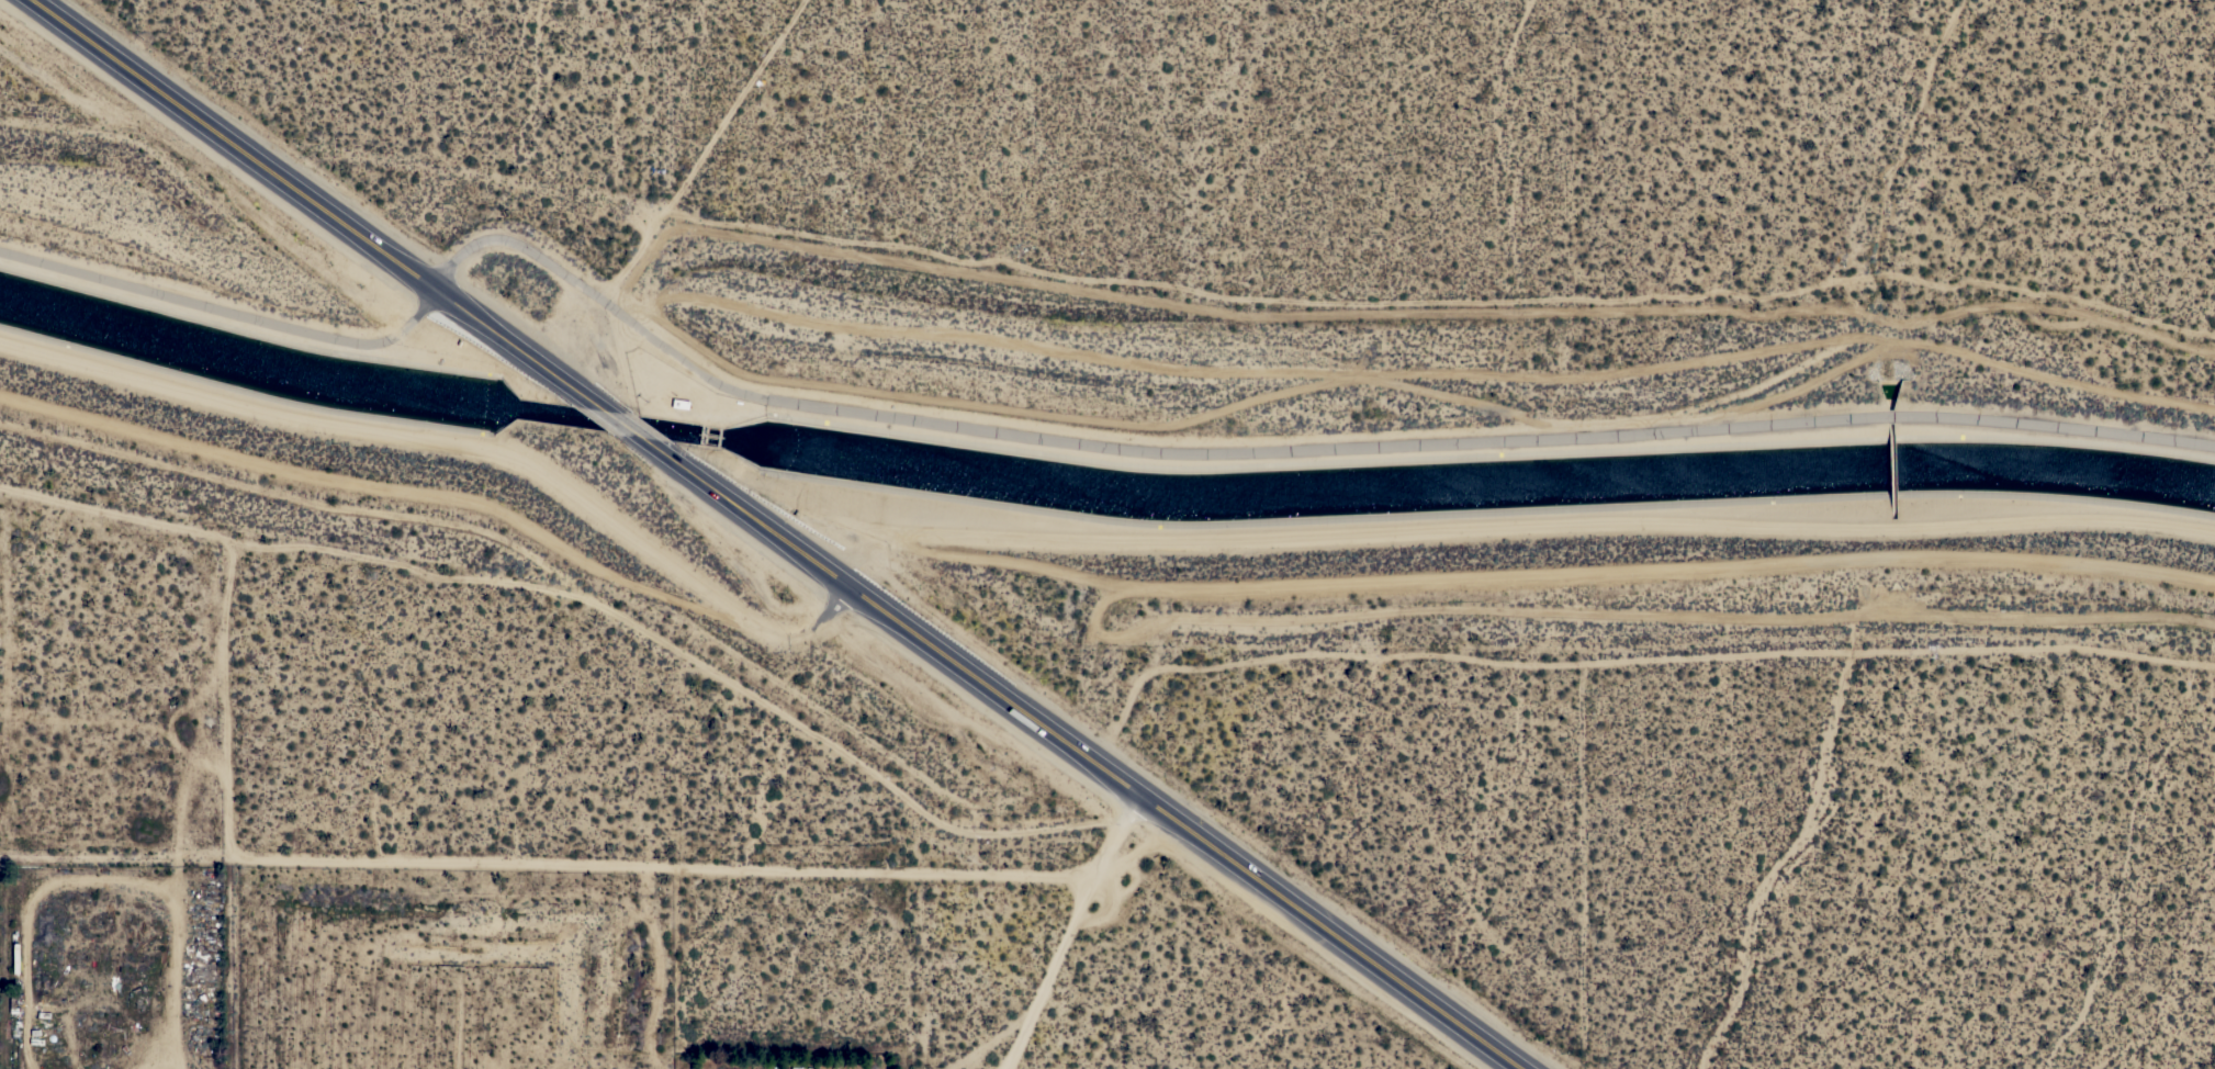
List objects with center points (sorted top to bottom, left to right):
road: (322, 205)
road: (630, 431)
road: (447, 491)
road: (294, 539)
road: (1626, 653)
road: (224, 693)
road: (1087, 759)
road: (1588, 848)
road: (552, 860)
road: (1072, 932)

